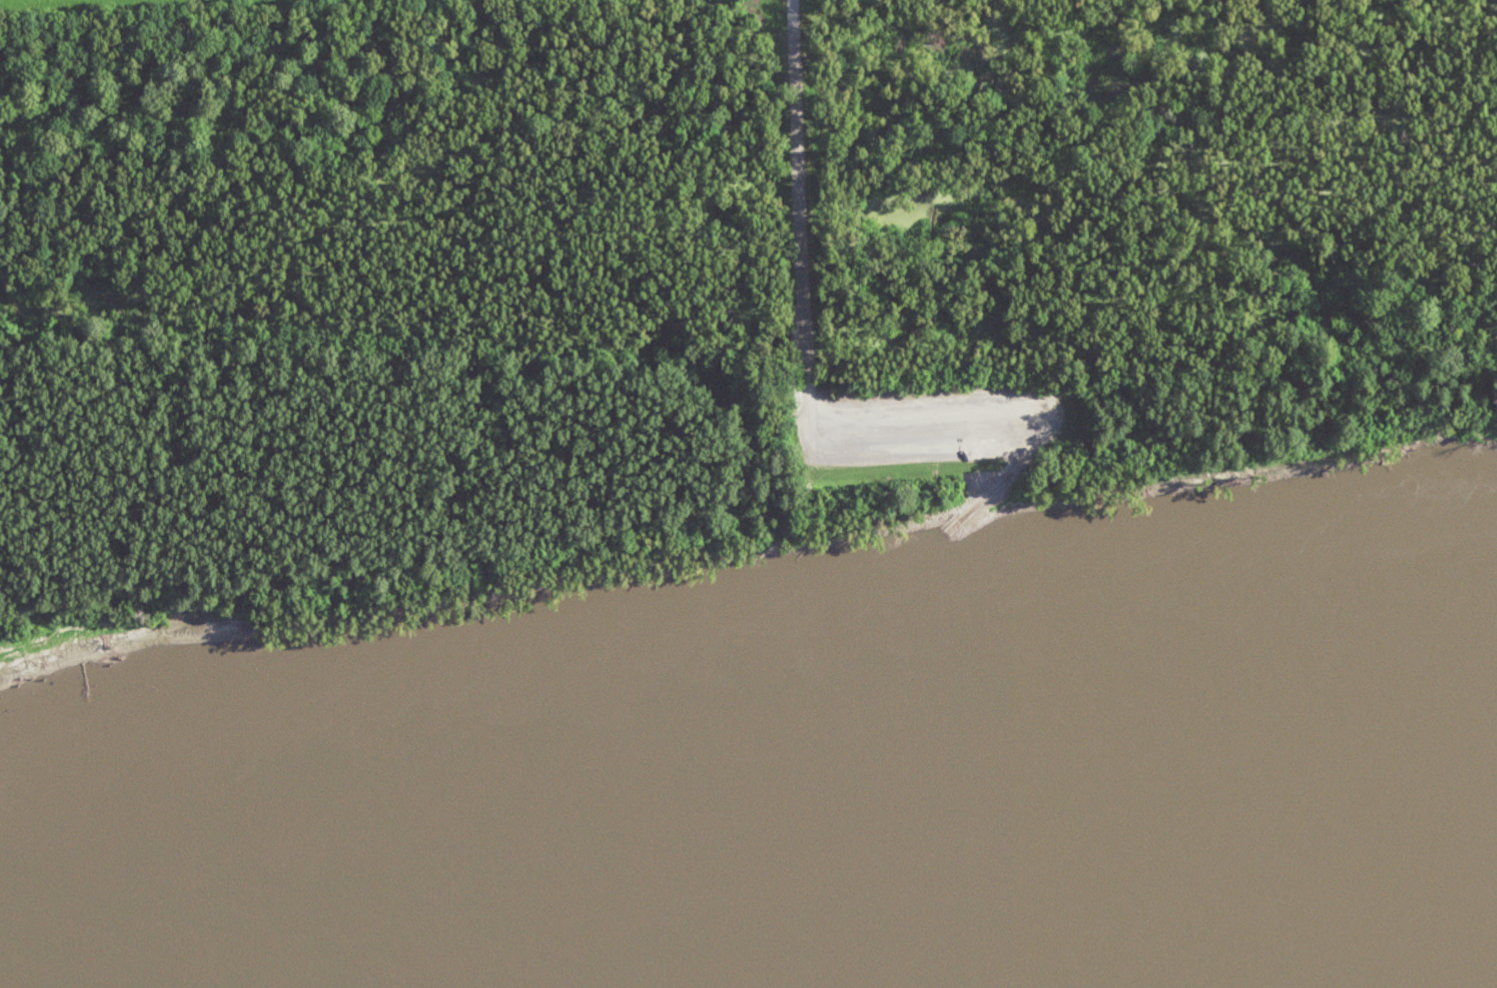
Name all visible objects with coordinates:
road: (809, 334)

